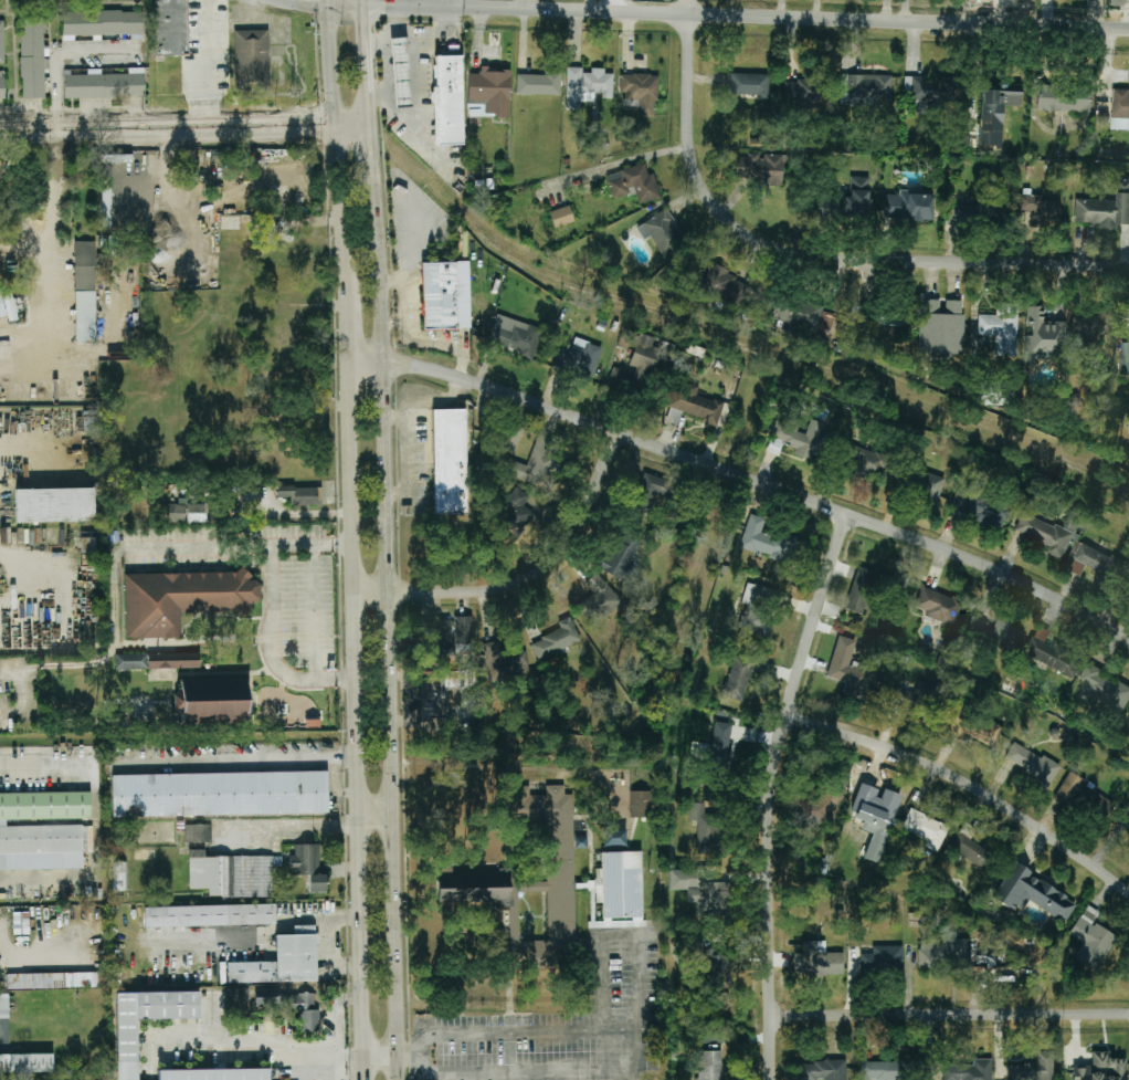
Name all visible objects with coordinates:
road: (319, 1)
road: (328, 1)
road: (361, 1)
road: (418, 2)
building: (1115, 2)
traffic signals: (329, 3)
road: (346, 3)
traffic signals: (362, 3)
road: (380, 3)
road: (408, 4)
road: (526, 4)
road: (687, 7)
road: (398, 14)
road: (1095, 14)
road: (773, 17)
building: (103, 23)
road: (362, 25)
building: (170, 28)
road: (404, 29)
road: (440, 29)
road: (383, 35)
building: (2, 42)
road: (371, 49)
road: (59, 54)
building: (32, 57)
building: (252, 61)
road: (208, 63)
building: (400, 72)
gas station: (400, 72)
road: (386, 77)
building: (538, 83)
building: (2, 85)
building: (104, 85)
building: (587, 85)
building: (749, 85)
building: (842, 85)
building: (869, 86)
building: (931, 90)
building: (489, 91)
building: (641, 92)
building: (802, 92)
road: (415, 95)
building: (1065, 98)
building: (447, 101)
building: (996, 102)
building: (1120, 108)
road: (183, 127)
building: (986, 137)
building: (760, 169)
building: (633, 182)
building: (859, 191)
building: (909, 206)
building: (1040, 207)
building: (1105, 209)
building: (962, 213)
building: (560, 217)
building: (663, 233)
road: (413, 237)
road: (50, 255)
road: (815, 258)
road: (390, 281)
building: (726, 286)
building: (85, 292)
building: (442, 295)
road: (403, 298)
building: (8, 307)
building: (804, 315)
road: (389, 324)
building: (940, 326)
building: (1094, 326)
building: (1002, 327)
building: (515, 335)
building: (1043, 338)
road: (440, 345)
building: (1125, 357)
building: (578, 360)
building: (636, 365)
building: (994, 394)
building: (696, 405)
building: (674, 417)
road: (394, 418)
road: (408, 426)
building: (798, 437)
building: (510, 438)
road: (27, 447)
building: (449, 461)
building: (867, 461)
road: (745, 476)
building: (927, 486)
building: (651, 492)
building: (300, 494)
building: (54, 505)
building: (980, 507)
building: (519, 511)
building: (187, 513)
building: (1049, 532)
road: (346, 541)
building: (768, 542)
road: (197, 547)
building: (622, 554)
road: (27, 555)
building: (1096, 562)
road: (383, 564)
road: (526, 580)
building: (861, 590)
building: (181, 599)
building: (599, 601)
road: (270, 606)
building: (938, 606)
building: (758, 609)
road: (315, 612)
building: (463, 630)
building: (994, 631)
building: (441, 639)
building: (557, 640)
road: (114, 647)
building: (1052, 654)
building: (173, 660)
building: (130, 661)
building: (504, 662)
building: (847, 669)
building: (740, 674)
building: (1106, 688)
road: (20, 693)
building: (914, 699)
building: (212, 702)
building: (722, 716)
building: (970, 724)
building: (720, 745)
road: (240, 761)
building: (1031, 763)
road: (967, 783)
road: (774, 791)
building: (219, 794)
building: (1085, 798)
building: (640, 805)
building: (811, 809)
building: (1125, 822)
road: (371, 825)
road: (94, 827)
building: (705, 828)
building: (925, 829)
building: (42, 830)
building: (968, 849)
building: (308, 867)
building: (231, 874)
building: (119, 875)
building: (548, 887)
building: (473, 889)
building: (620, 890)
building: (701, 892)
building: (1032, 894)
building: (209, 915)
building: (21, 923)
road: (620, 934)
building: (1091, 941)
building: (1024, 951)
building: (942, 954)
building: (704, 960)
building: (282, 961)
building: (817, 961)
building: (883, 961)
building: (51, 981)
building: (3, 1006)
building: (292, 1006)
road: (950, 1015)
building: (127, 1049)
road: (637, 1050)
road: (303, 1059)
road: (377, 1059)
road: (409, 1059)
building: (25, 1063)
building: (709, 1066)
building: (1034, 1068)
building: (1101, 1068)
building: (822, 1070)
building: (882, 1070)
building: (969, 1071)
building: (214, 1074)

